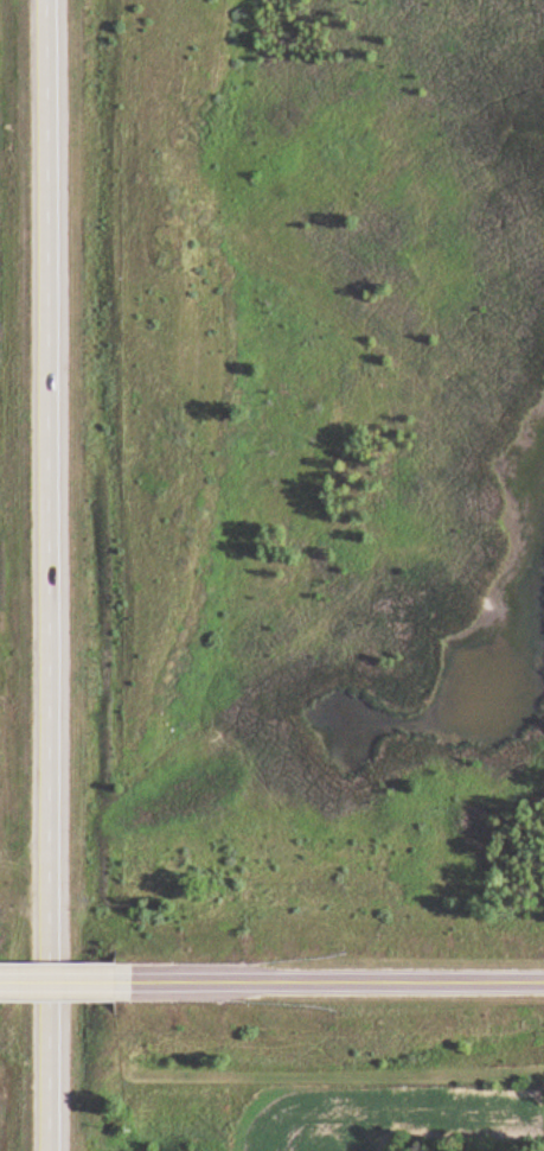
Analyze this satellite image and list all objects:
road: (53, 575)
road: (63, 981)
road: (335, 981)

